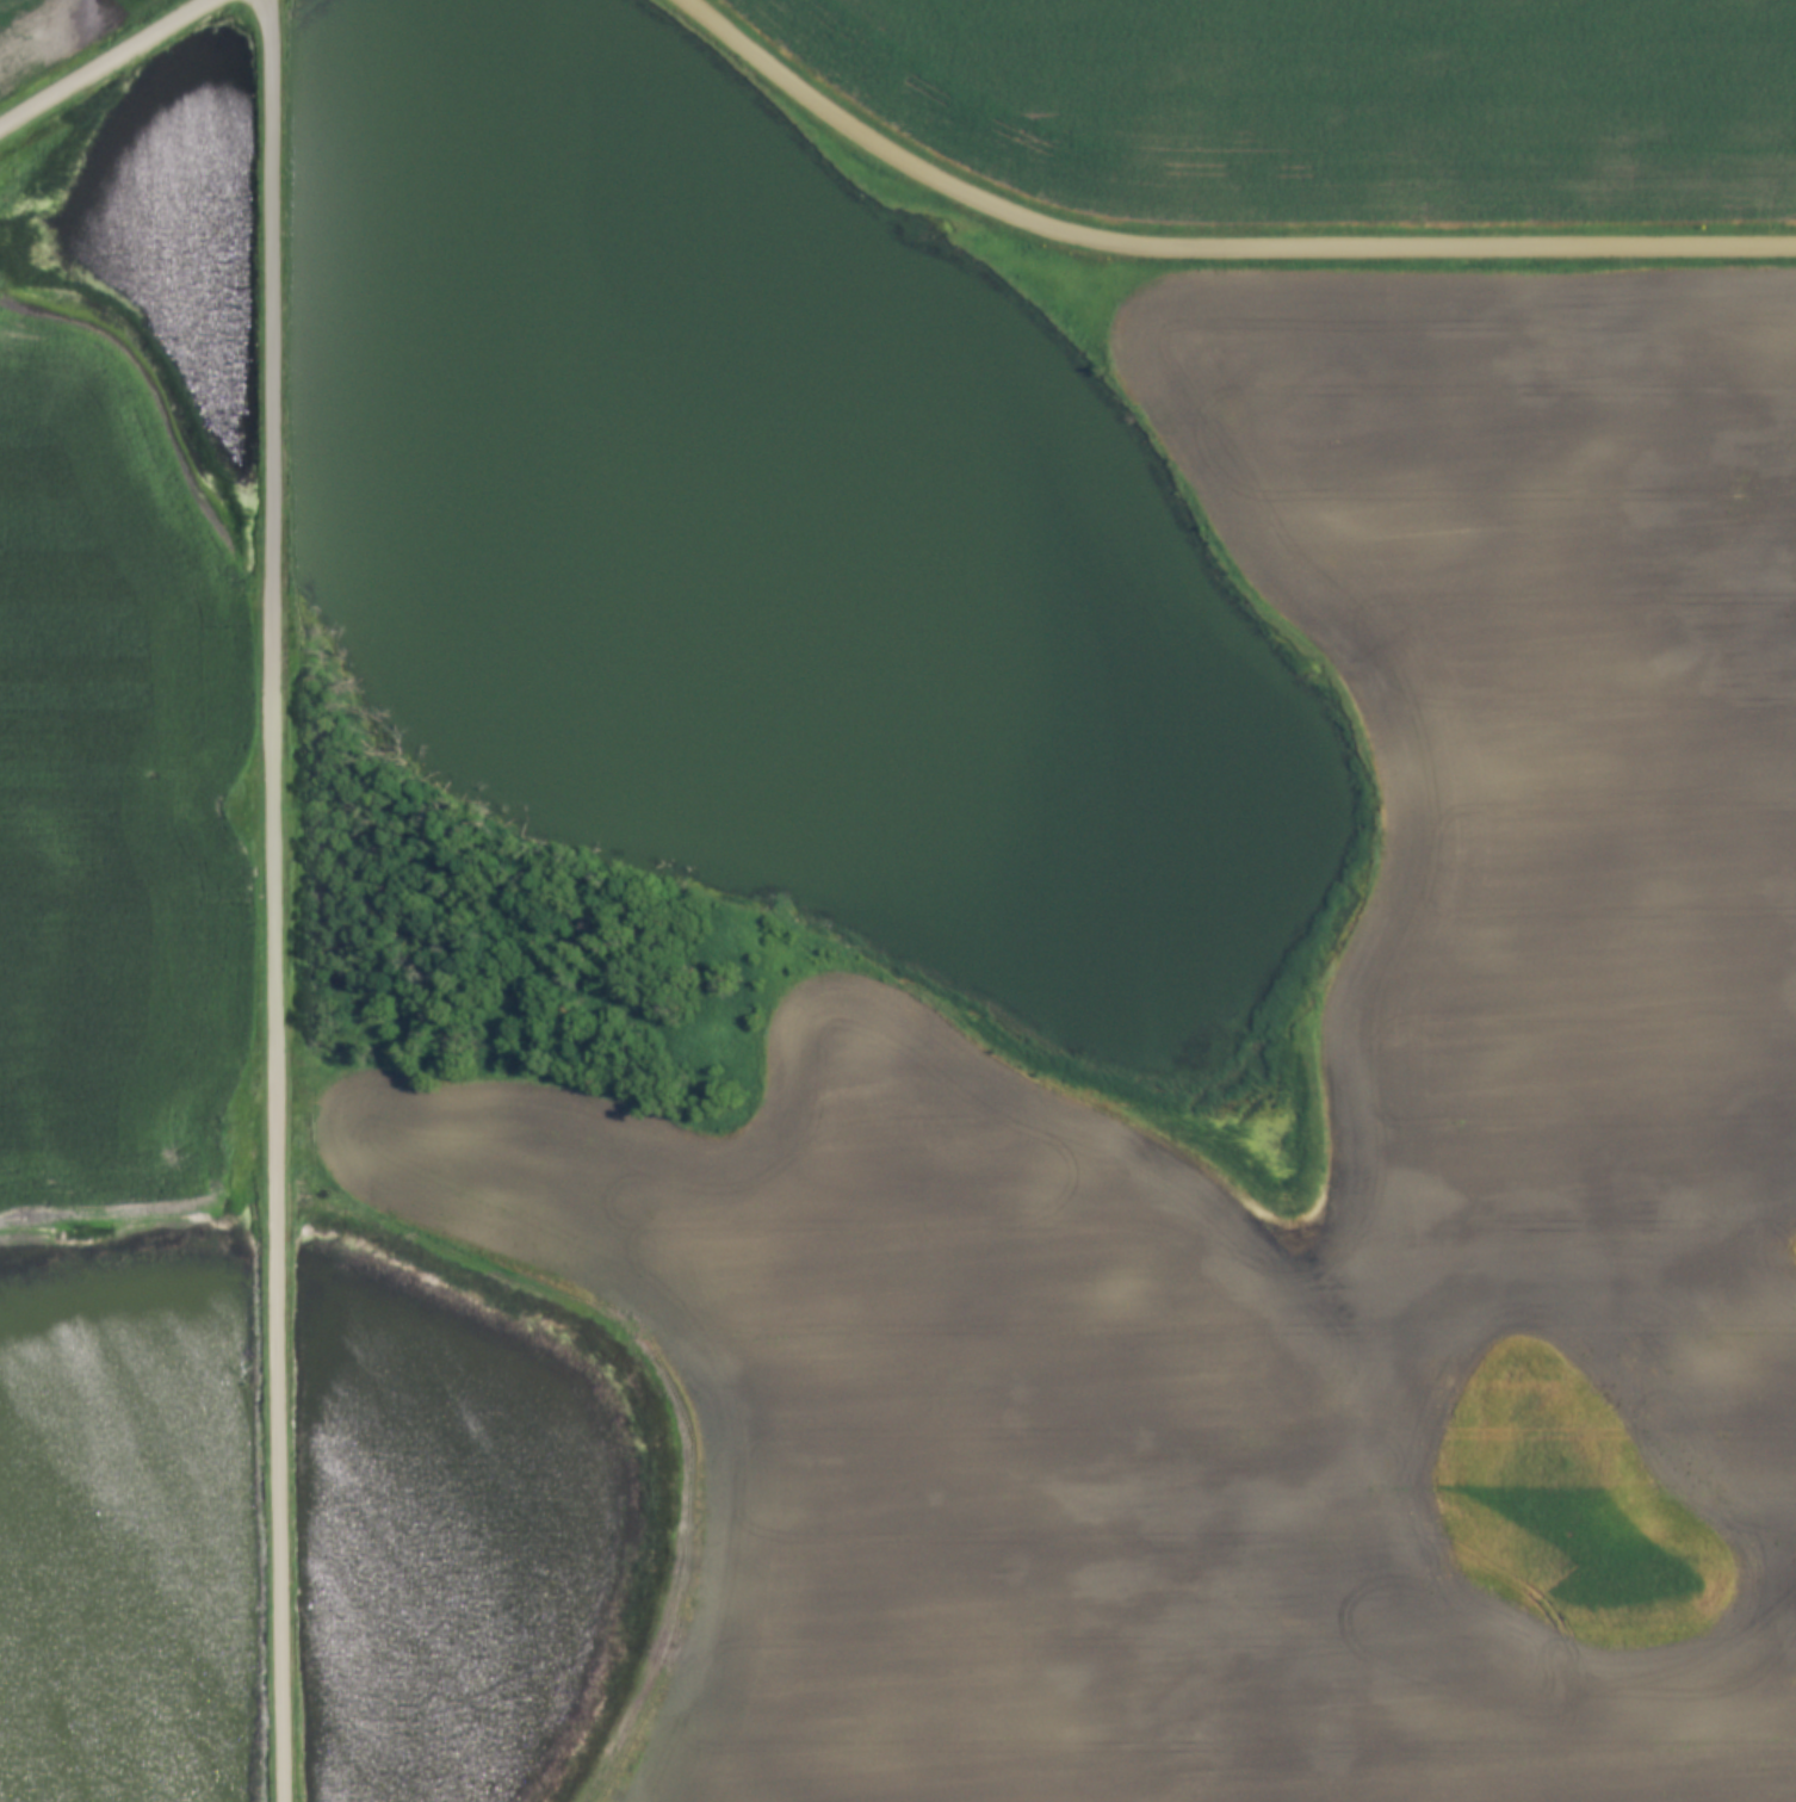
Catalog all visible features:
road: (113, 67)
road: (1207, 252)
road: (281, 900)

